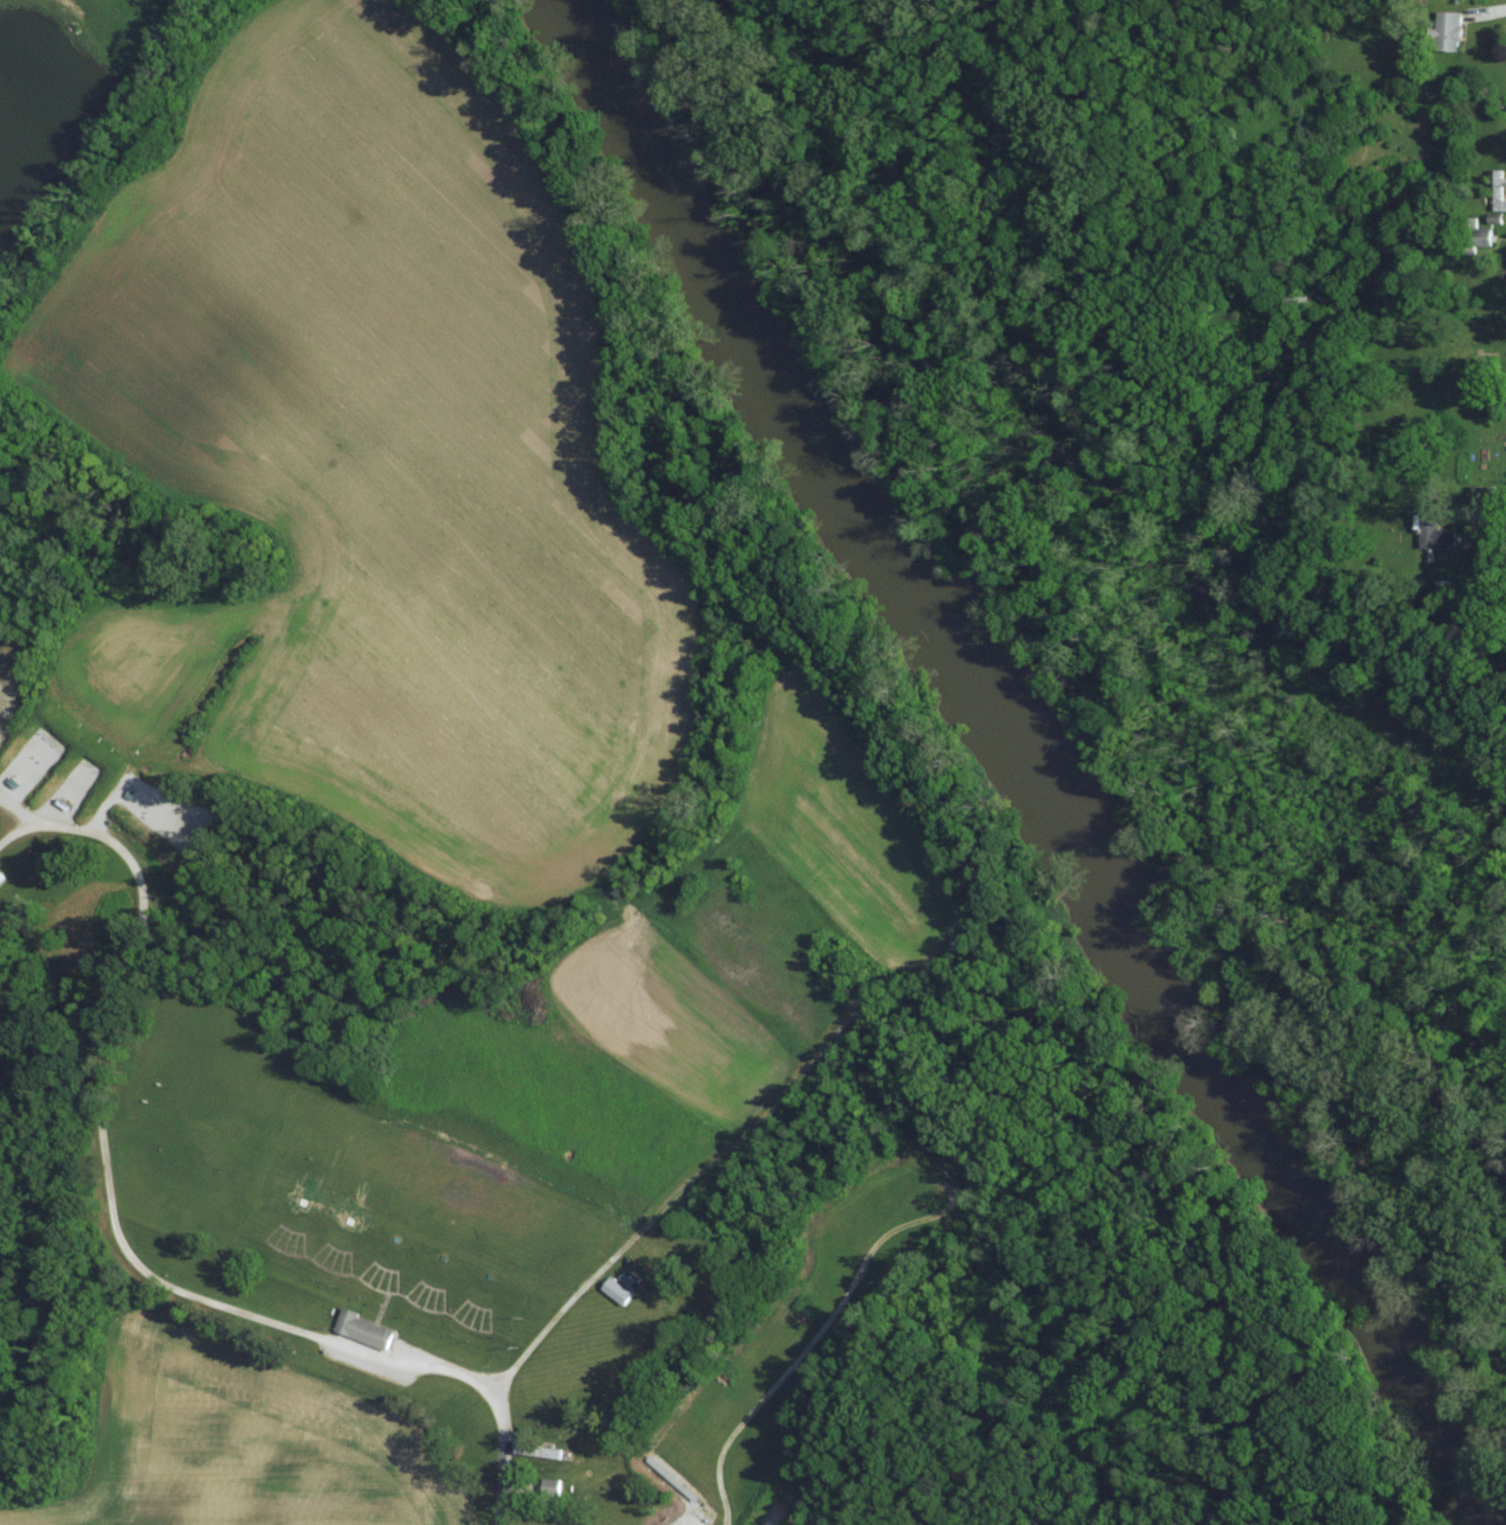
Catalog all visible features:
building: (1452, 32)
building: (1436, 529)
river: (1029, 753)
building: (2, 876)
road: (106, 1197)
building: (619, 1290)
building: (363, 1328)
road: (541, 1334)
road: (799, 1381)
building: (540, 1450)

